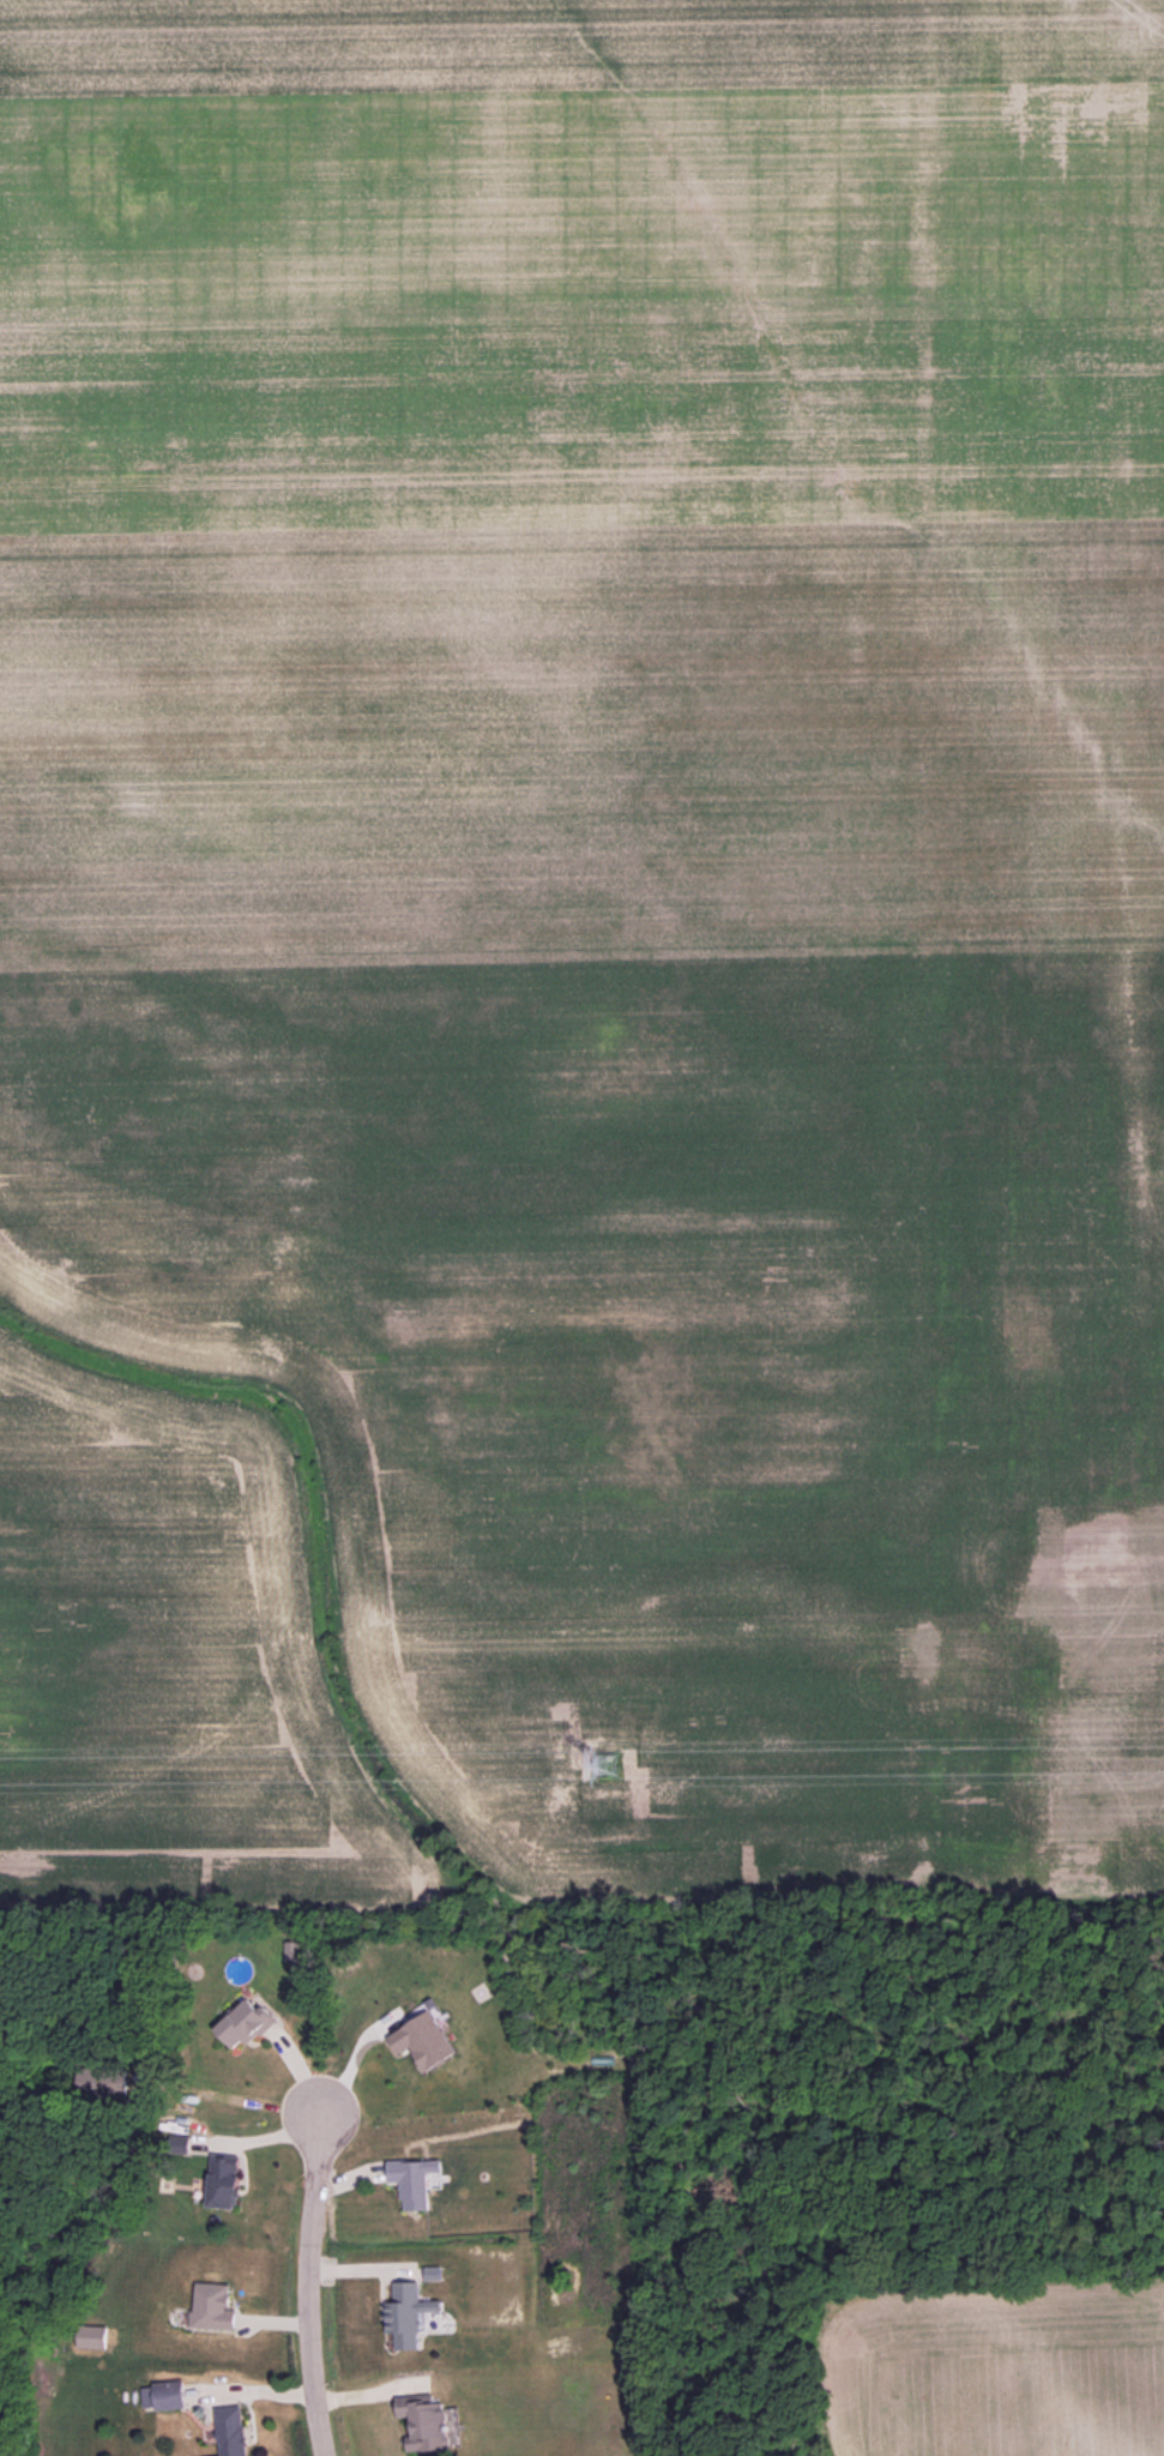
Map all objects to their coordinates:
power tower: (604, 1766)
building: (291, 1950)
building: (245, 2023)
building: (423, 2040)
building: (223, 2180)
building: (414, 2180)
road: (314, 2282)
building: (212, 2306)
building: (406, 2313)
building: (91, 2336)
building: (163, 2395)
building: (429, 2424)
building: (230, 2430)

